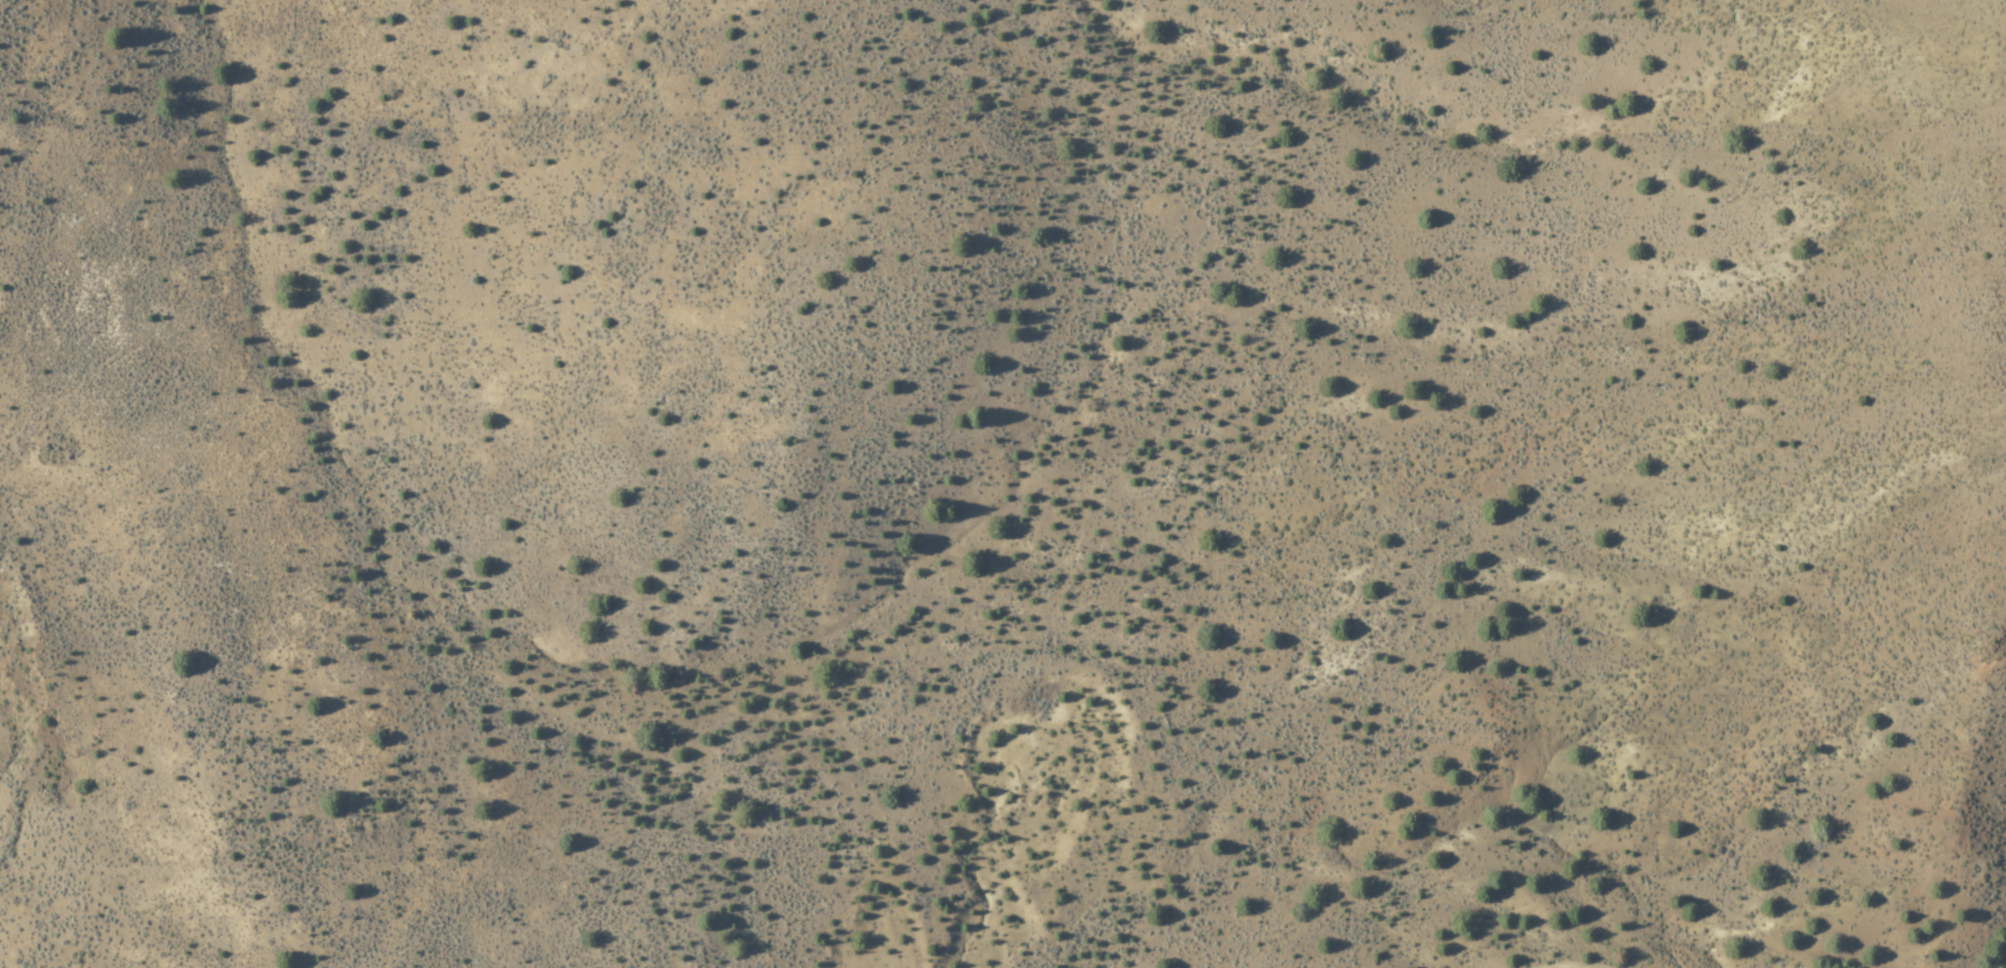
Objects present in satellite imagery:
road: (1619, 964)

